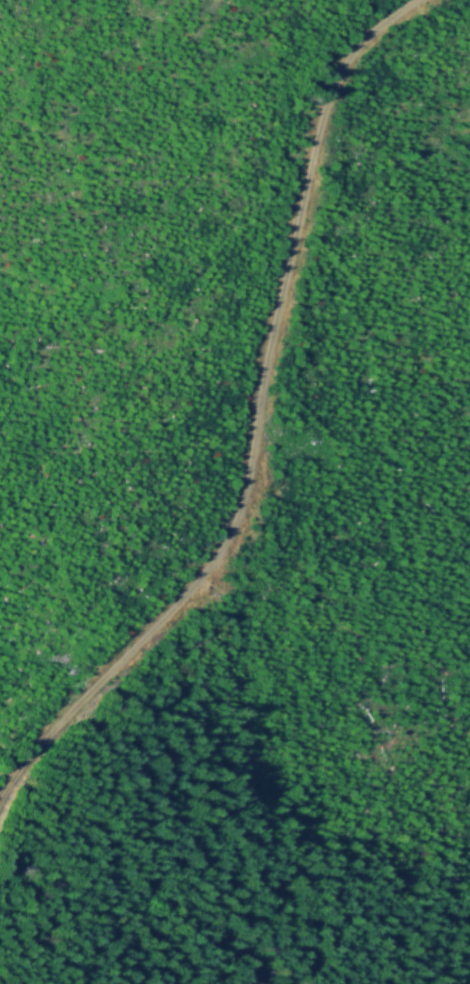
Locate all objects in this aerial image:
road: (253, 421)

